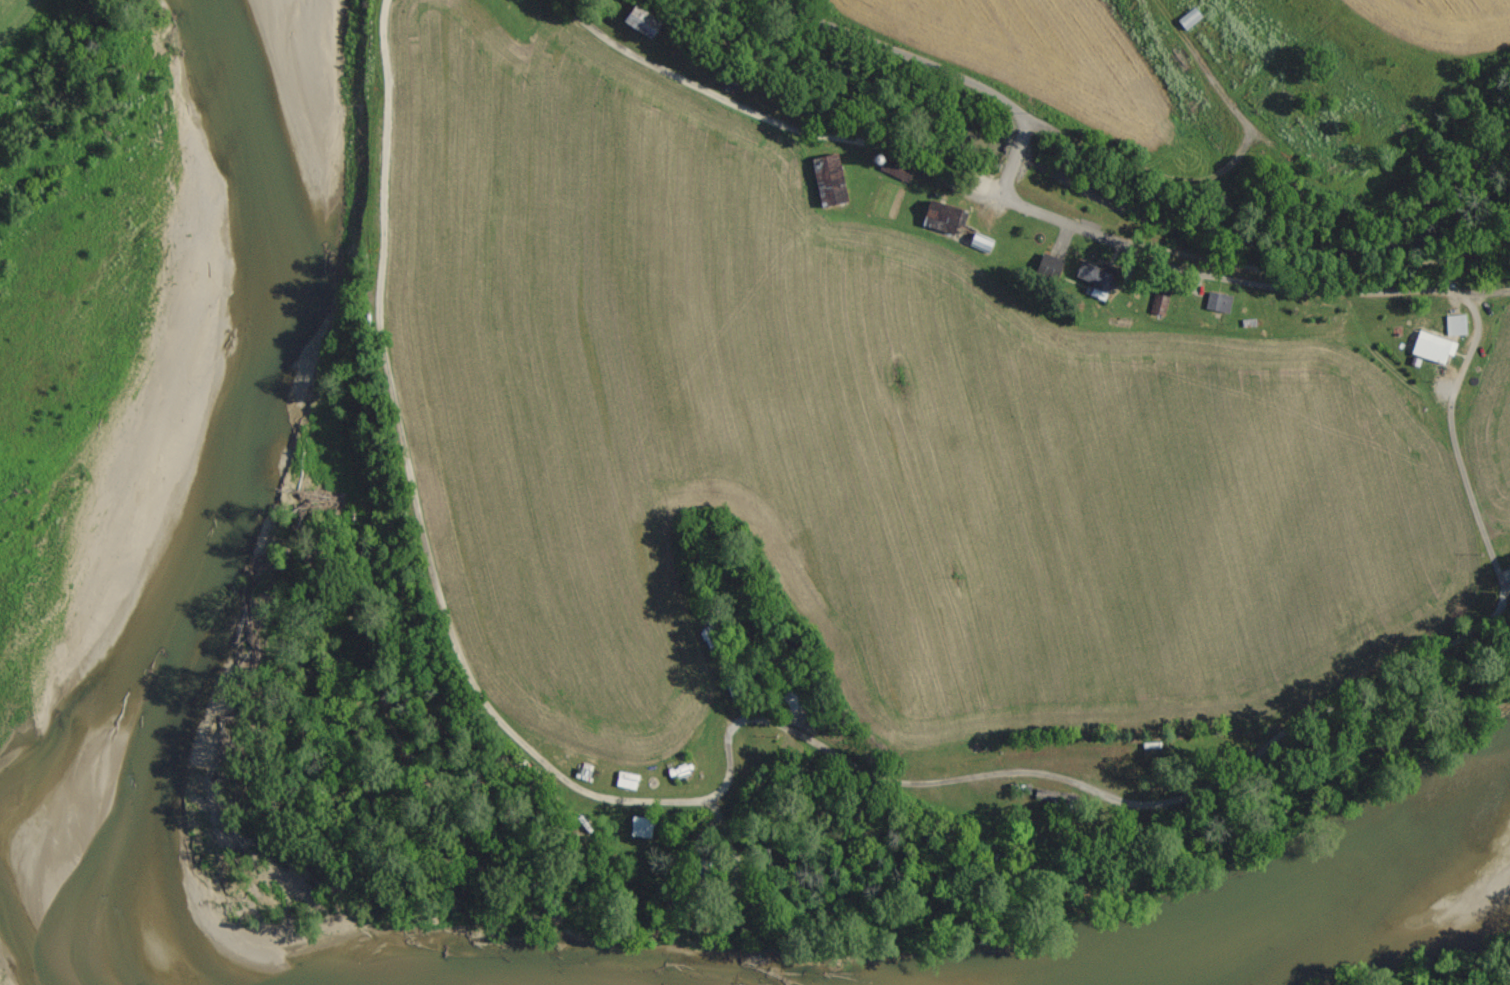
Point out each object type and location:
road: (896, 50)
road: (770, 118)
road: (1201, 179)
building: (826, 180)
road: (1063, 212)
building: (941, 220)
road: (1174, 264)
building: (1093, 279)
road: (1480, 292)
building: (1217, 302)
building: (1454, 325)
building: (1431, 347)
river: (234, 366)
road: (788, 729)
building: (639, 827)
river: (1305, 902)
river: (33, 982)

